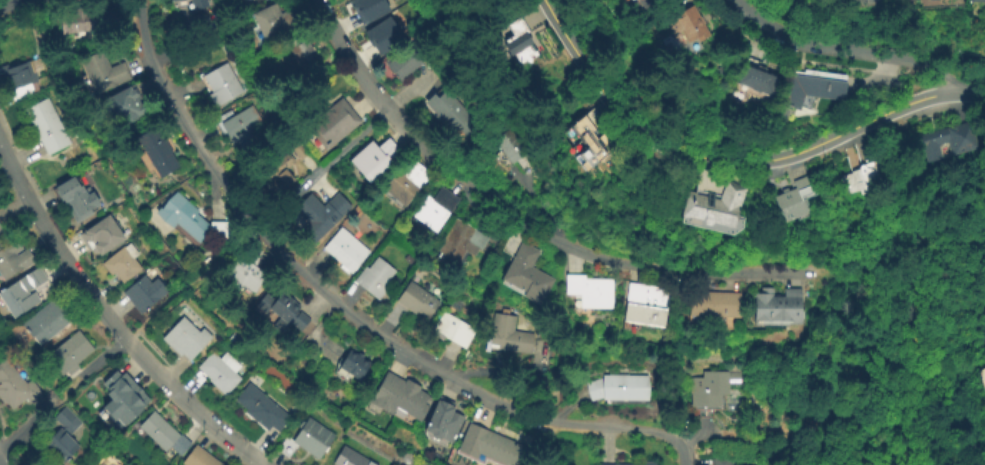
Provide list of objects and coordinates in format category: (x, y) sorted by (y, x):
road: (9, 0)
road: (10, 0)
building: (174, 0)
building: (975, 0)
road: (4, 3)
building: (646, 4)
building: (197, 5)
building: (367, 9)
building: (688, 21)
building: (269, 24)
building: (85, 25)
building: (381, 34)
building: (520, 35)
road: (820, 42)
building: (299, 53)
road: (349, 57)
building: (405, 61)
road: (938, 69)
building: (102, 74)
building: (758, 77)
building: (20, 80)
building: (822, 84)
building: (218, 86)
road: (411, 91)
building: (123, 108)
building: (448, 112)
road: (181, 121)
building: (333, 126)
building: (48, 127)
building: (243, 129)
road: (355, 138)
building: (947, 141)
building: (510, 146)
building: (592, 148)
building: (156, 154)
road: (736, 159)
building: (374, 160)
building: (279, 171)
building: (864, 180)
road: (305, 185)
building: (403, 186)
building: (75, 201)
building: (798, 202)
building: (719, 209)
building: (435, 210)
building: (320, 218)
building: (188, 222)
building: (2, 232)
building: (103, 238)
building: (461, 243)
road: (569, 247)
building: (344, 252)
building: (13, 261)
building: (122, 265)
building: (526, 276)
road: (200, 277)
building: (245, 277)
building: (373, 280)
building: (591, 290)
building: (22, 294)
building: (143, 295)
building: (416, 301)
building: (647, 304)
building: (715, 305)
building: (779, 307)
building: (283, 315)
road: (110, 322)
building: (45, 323)
building: (452, 331)
building: (983, 334)
building: (507, 337)
building: (184, 340)
building: (68, 355)
road: (102, 359)
building: (352, 366)
building: (219, 372)
building: (982, 376)
road: (448, 377)
building: (15, 387)
road: (71, 387)
building: (619, 388)
building: (708, 389)
building: (399, 397)
building: (121, 400)
building: (260, 408)
building: (441, 423)
road: (26, 429)
building: (163, 433)
building: (62, 435)
building: (307, 440)
building: (486, 446)
road: (683, 453)
building: (199, 457)
building: (350, 458)
building: (722, 460)
road: (1, 463)
building: (649, 463)

